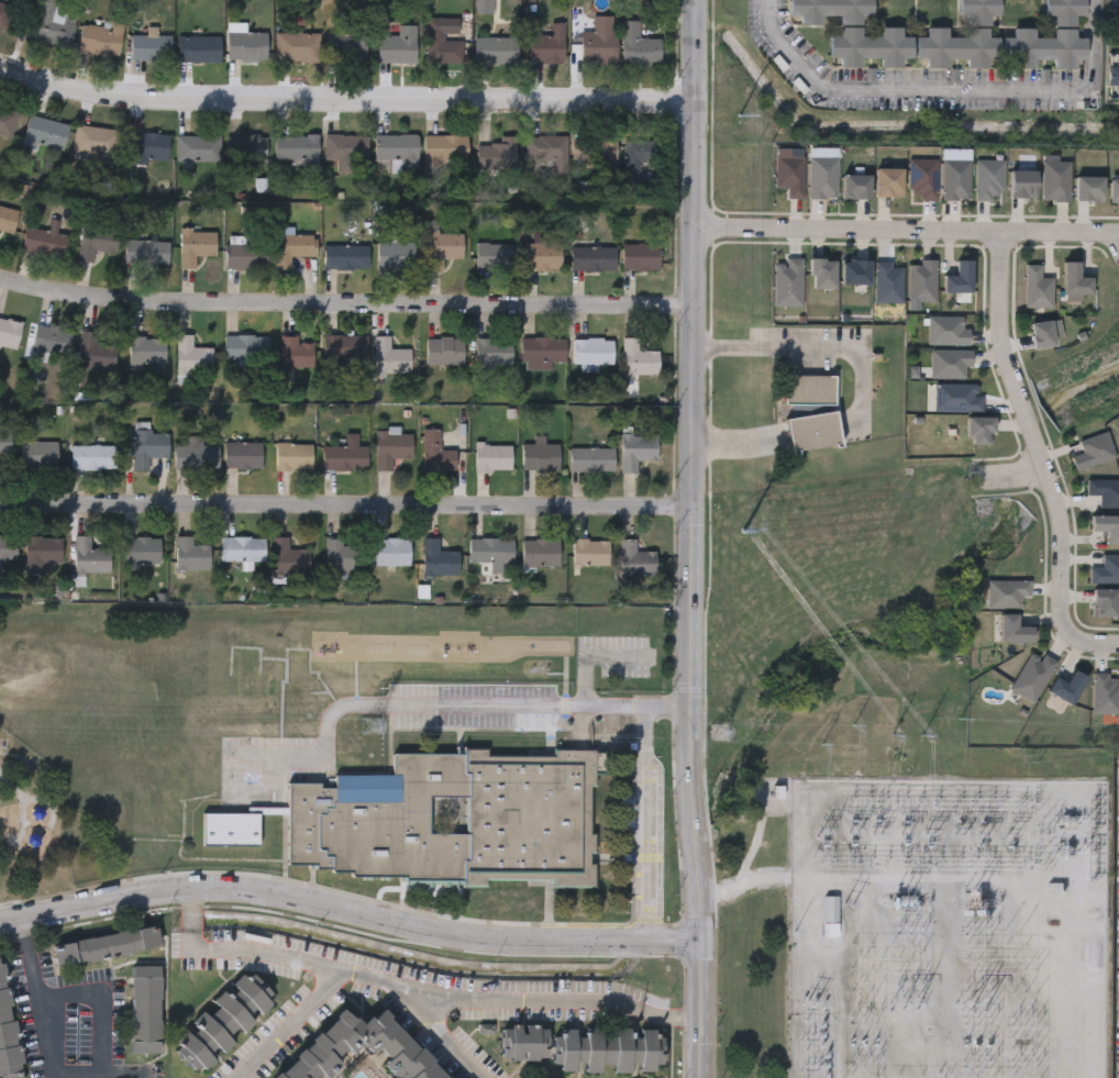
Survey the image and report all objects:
building: (484, 5)
building: (3, 12)
building: (54, 22)
building: (855, 32)
building: (101, 36)
building: (961, 36)
building: (599, 37)
building: (1048, 37)
building: (441, 42)
building: (247, 43)
building: (549, 43)
building: (297, 44)
building: (398, 44)
building: (639, 44)
building: (151, 45)
building: (348, 45)
building: (199, 47)
building: (496, 48)
building: (1114, 75)
road: (950, 89)
road: (345, 98)
building: (7, 120)
power tower: (739, 125)
building: (45, 131)
building: (95, 140)
building: (145, 145)
building: (246, 146)
building: (445, 146)
building: (197, 147)
building: (296, 147)
building: (397, 147)
building: (546, 147)
building: (595, 148)
building: (346, 151)
building: (497, 152)
building: (636, 158)
building: (787, 174)
building: (820, 176)
building: (920, 177)
building: (953, 178)
building: (987, 178)
building: (1054, 179)
building: (887, 180)
building: (1021, 182)
building: (854, 185)
building: (1087, 187)
building: (1114, 189)
building: (8, 218)
road: (905, 231)
building: (96, 238)
building: (45, 241)
building: (297, 244)
building: (196, 245)
building: (443, 247)
building: (145, 251)
building: (396, 254)
building: (494, 254)
building: (591, 254)
building: (247, 255)
building: (542, 255)
building: (640, 255)
building: (346, 256)
building: (854, 270)
building: (821, 271)
building: (957, 277)
building: (920, 279)
building: (886, 280)
building: (786, 281)
building: (1035, 287)
road: (345, 309)
building: (944, 329)
building: (9, 331)
building: (1043, 333)
building: (52, 338)
building: (345, 345)
road: (811, 345)
building: (246, 346)
building: (543, 347)
building: (147, 348)
building: (444, 349)
building: (492, 349)
building: (592, 349)
building: (95, 351)
building: (296, 351)
building: (191, 356)
building: (389, 356)
building: (638, 357)
building: (948, 362)
building: (809, 387)
building: (955, 396)
road: (1026, 427)
building: (813, 430)
building: (979, 430)
building: (4, 441)
building: (148, 446)
building: (391, 447)
building: (636, 448)
building: (1092, 449)
building: (435, 451)
building: (38, 454)
building: (197, 454)
building: (243, 454)
building: (345, 455)
building: (540, 455)
building: (93, 456)
building: (293, 456)
building: (492, 456)
building: (591, 457)
road: (1006, 476)
building: (1104, 490)
road: (345, 509)
building: (1106, 526)
power tower: (743, 531)
road: (690, 538)
building: (8, 546)
building: (242, 547)
building: (142, 549)
building: (590, 549)
building: (390, 551)
building: (490, 551)
building: (540, 551)
building: (42, 552)
building: (190, 553)
building: (92, 554)
building: (343, 554)
building: (288, 557)
building: (437, 558)
building: (634, 560)
building: (1105, 568)
building: (1006, 592)
building: (1103, 601)
road: (1085, 643)
building: (217, 675)
building: (1031, 675)
building: (246, 676)
building: (297, 677)
building: (1104, 692)
parking lot: (473, 703)
road: (535, 704)
power tower: (369, 725)
power tower: (718, 732)
park: (36, 746)
power tower: (1028, 757)
building: (202, 767)
building: (157, 769)
road: (45, 805)
road: (22, 807)
building: (111, 812)
building: (142, 812)
building: (171, 813)
road: (644, 822)
building: (356, 823)
road: (347, 911)
building: (830, 918)
power substation: (945, 929)
building: (106, 944)
road: (410, 989)
road: (110, 993)
building: (145, 1009)
building: (220, 1021)
road: (290, 1027)
building: (7, 1030)
road: (447, 1033)
building: (523, 1041)
road: (46, 1043)
building: (608, 1047)
building: (314, 1058)

